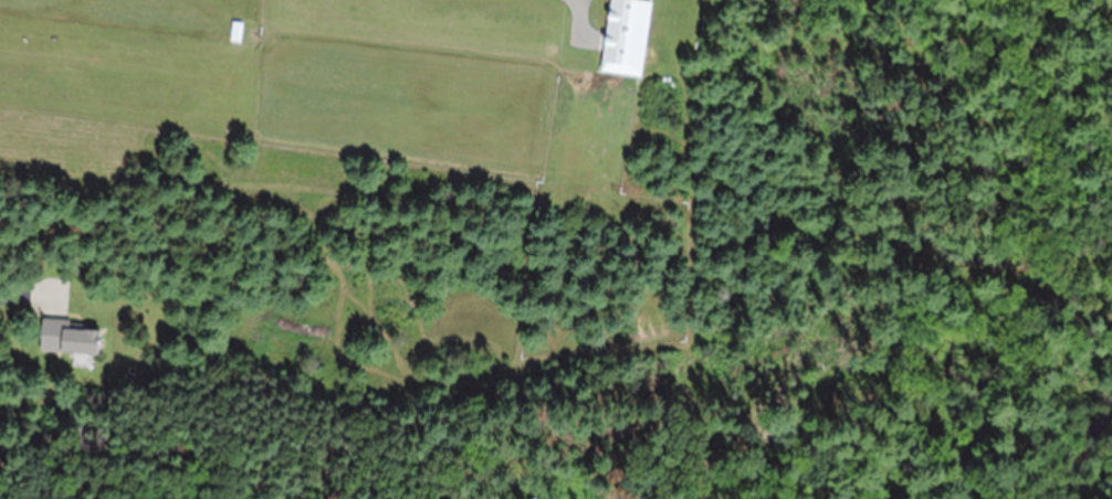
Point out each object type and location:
building: (620, 76)
building: (71, 336)

